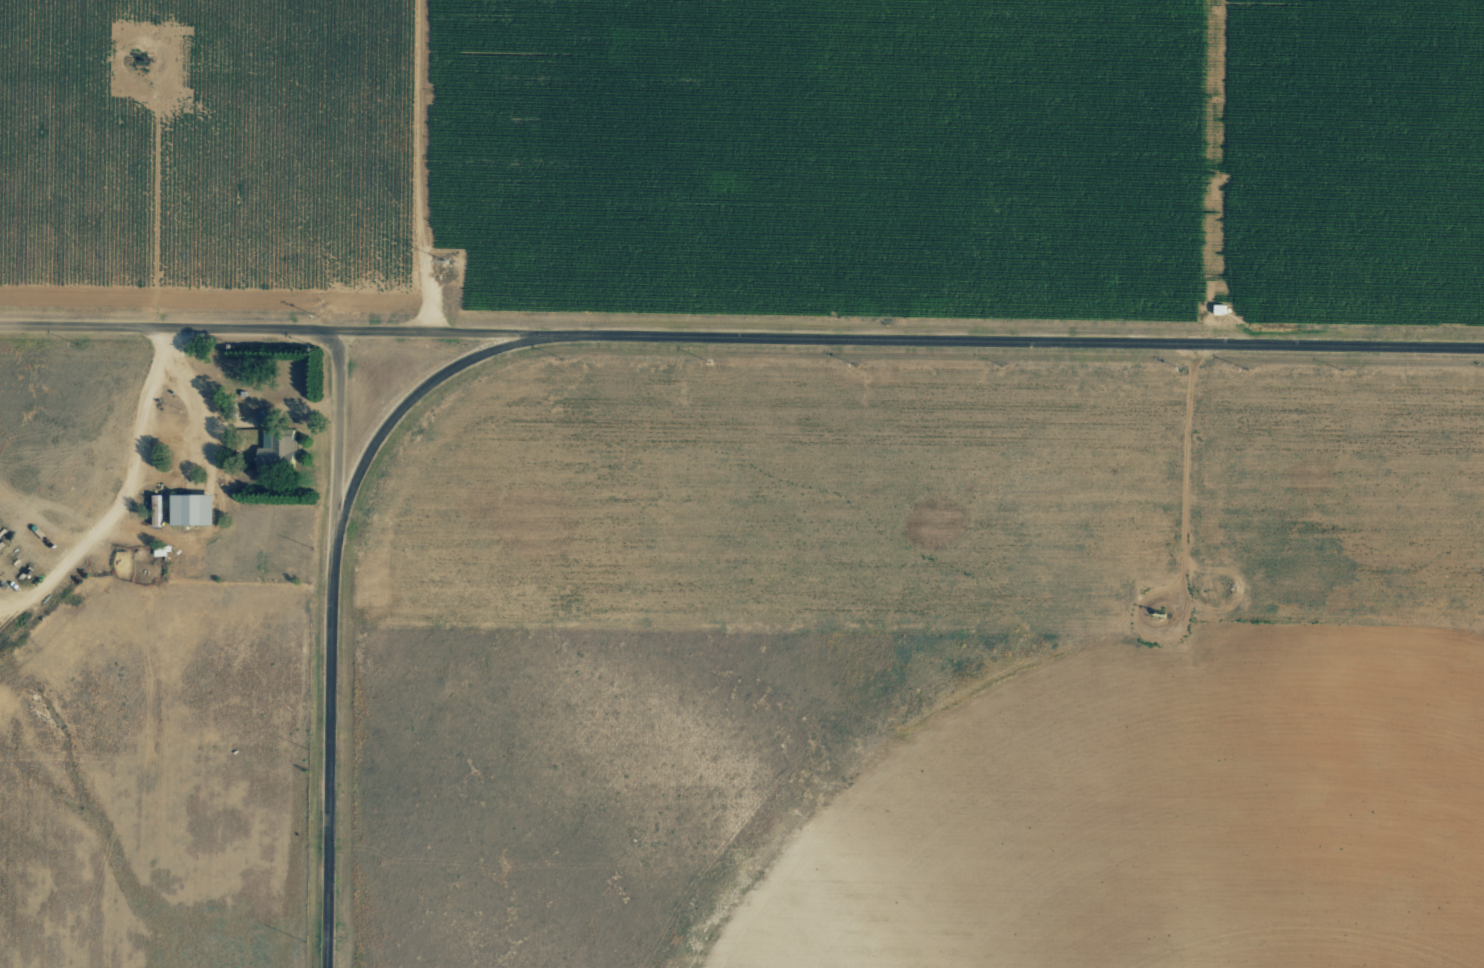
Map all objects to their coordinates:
petroleum well: (150, 60)
road: (421, 168)
road: (271, 336)
road: (1013, 343)
road: (405, 419)
road: (336, 451)
road: (123, 496)
petroleum well: (1160, 618)
road: (333, 766)

